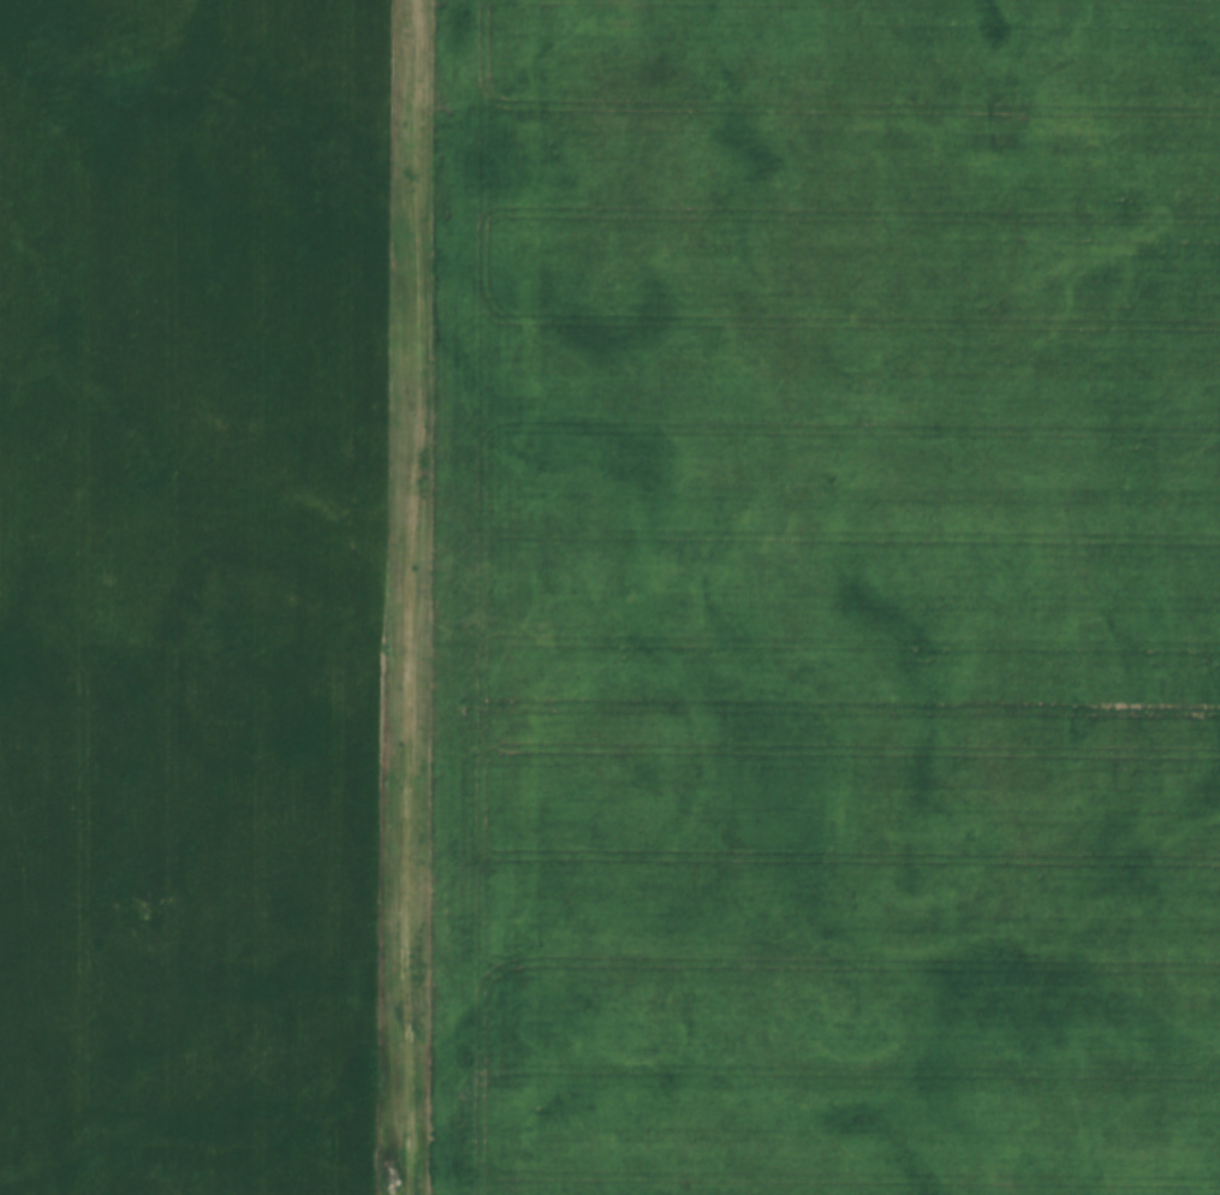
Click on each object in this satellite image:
road: (411, 596)

